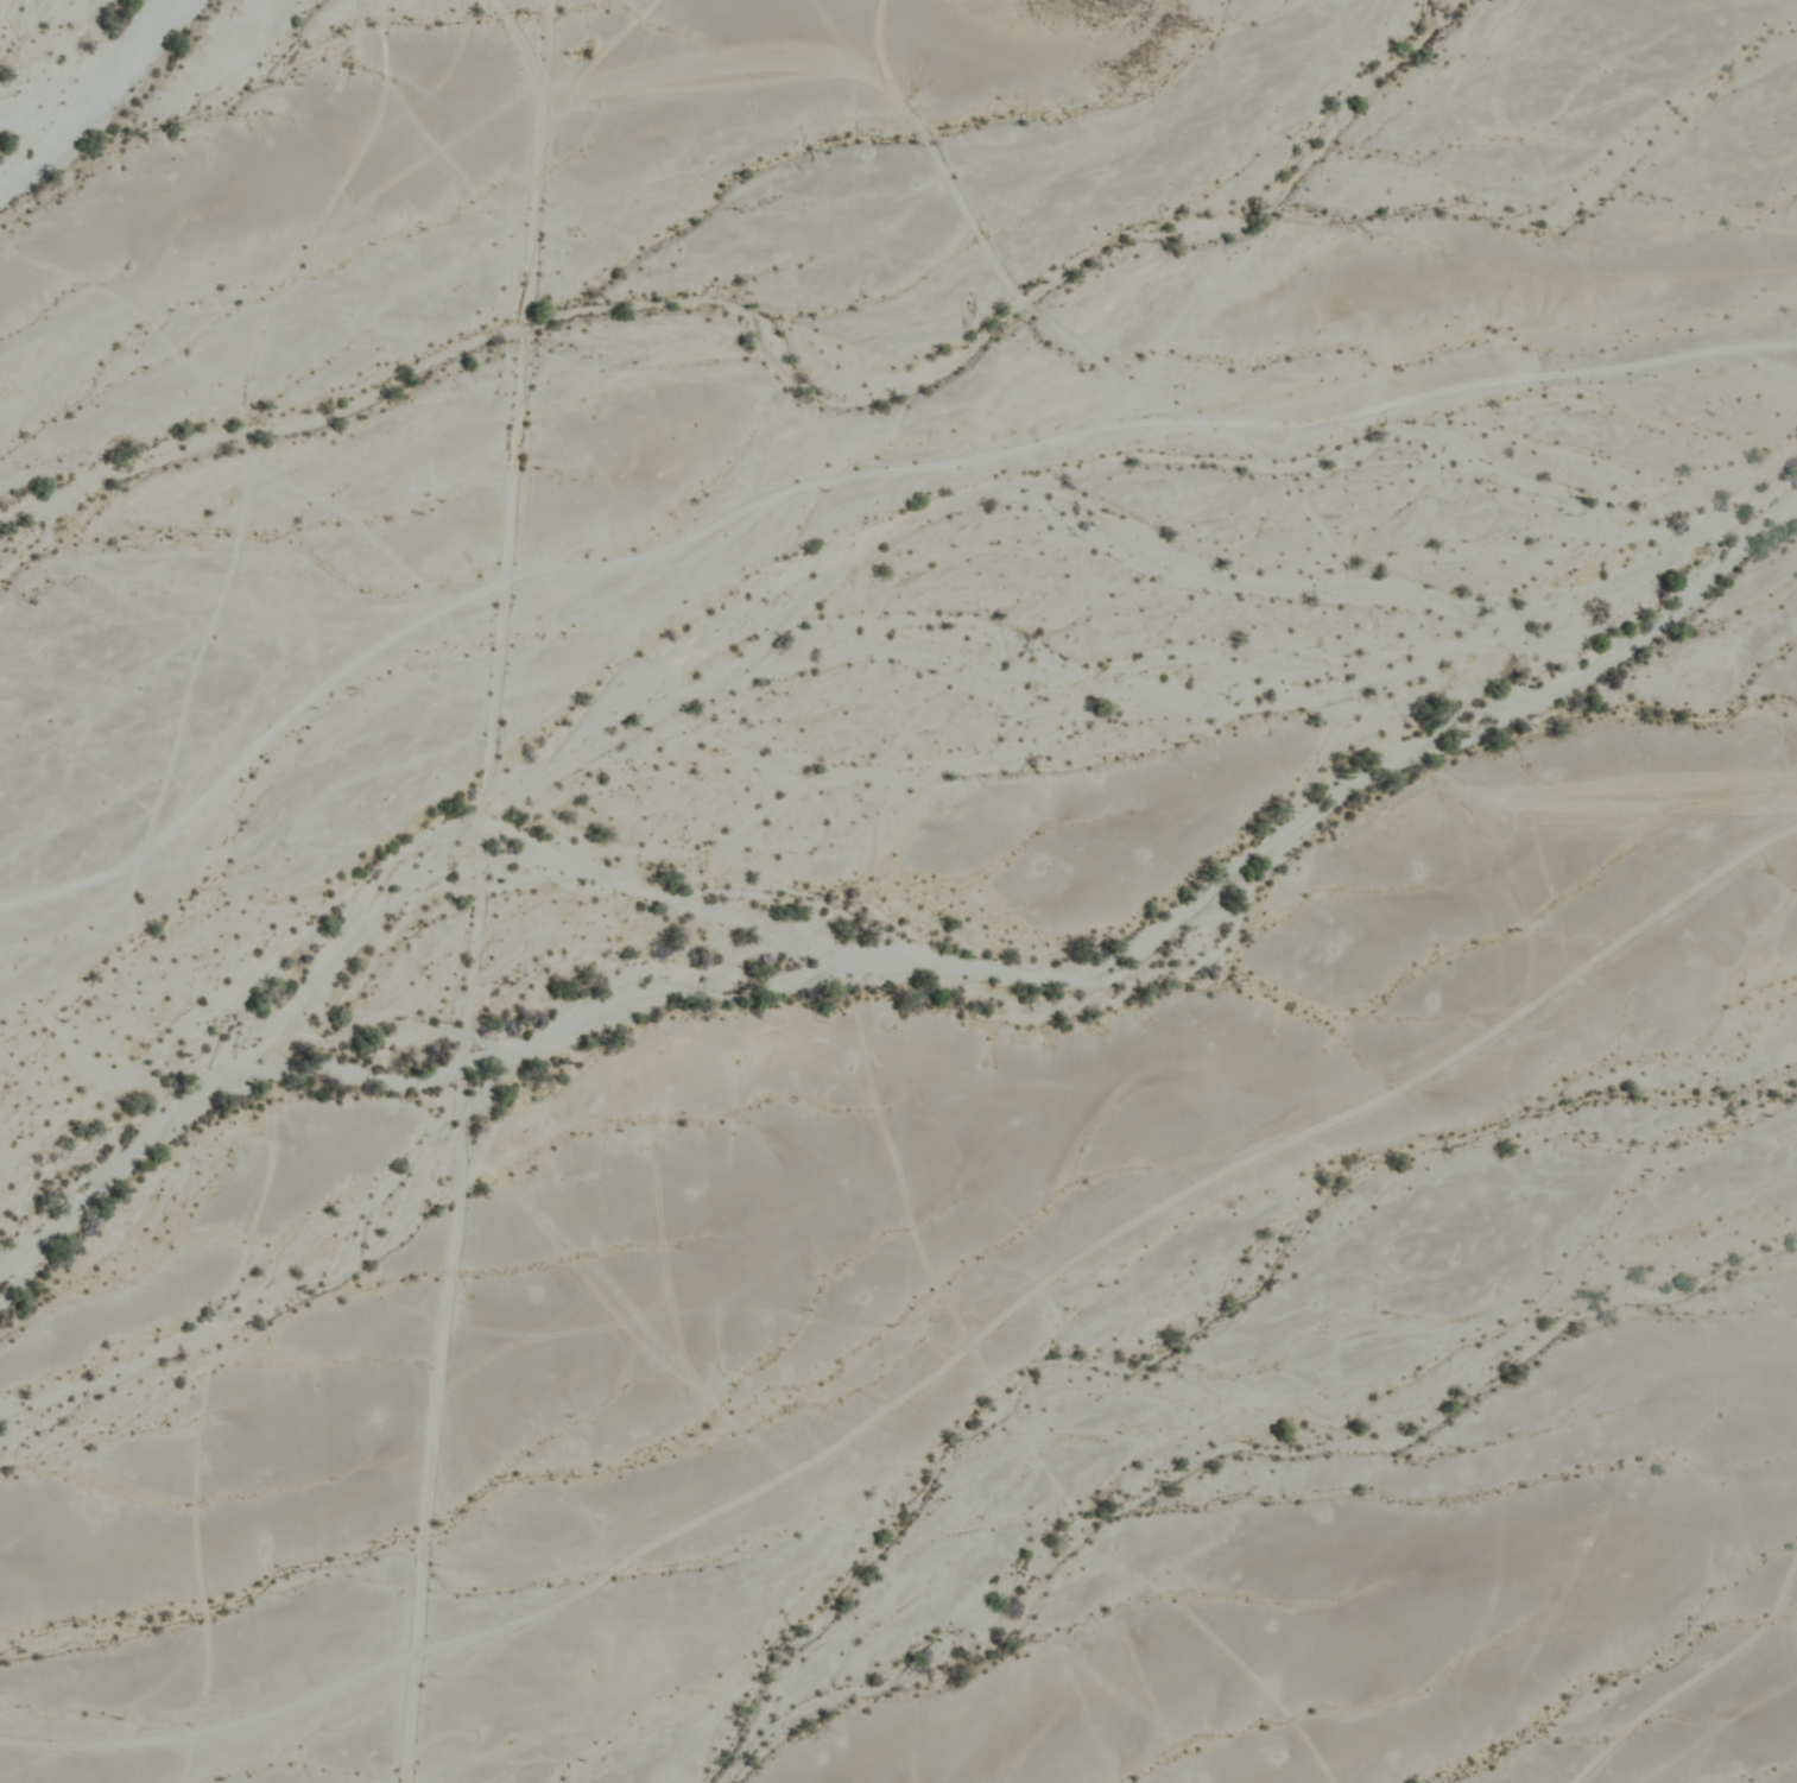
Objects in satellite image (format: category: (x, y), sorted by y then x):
road: (520, 45)
road: (479, 891)

